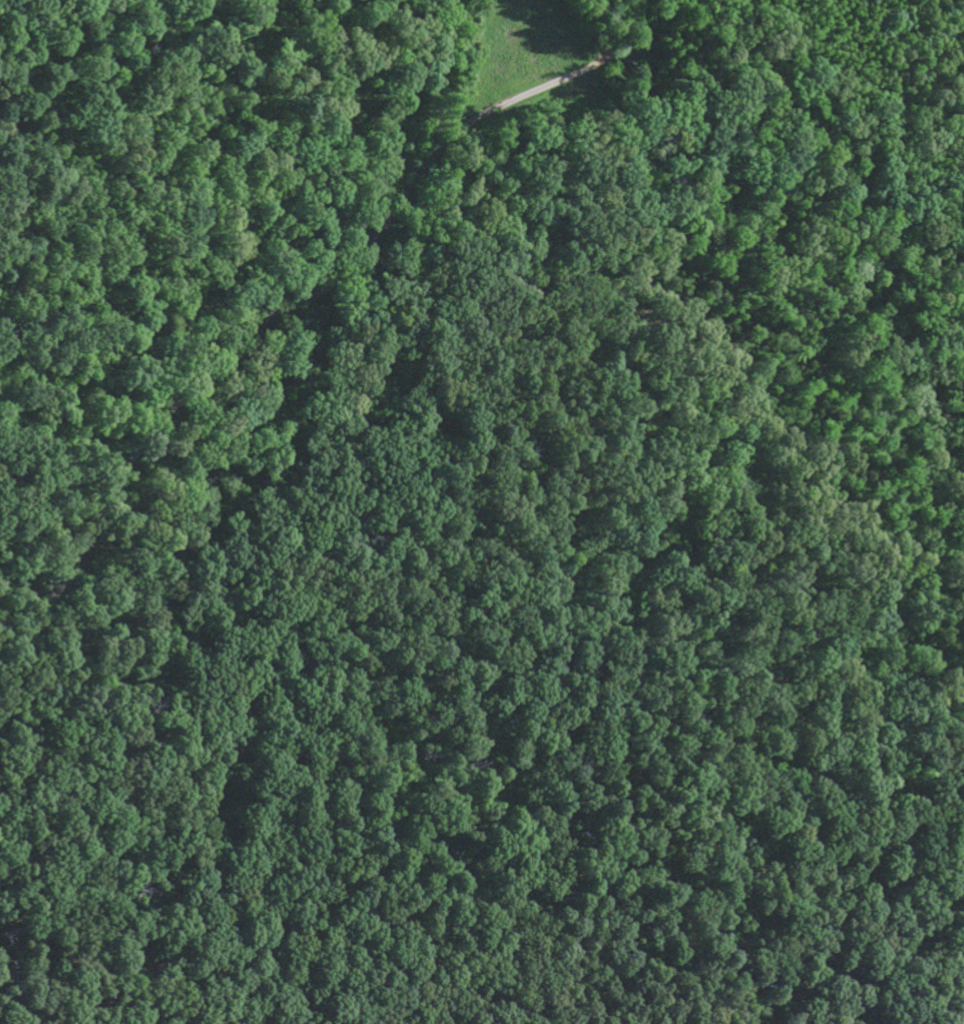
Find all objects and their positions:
road: (287, 310)

